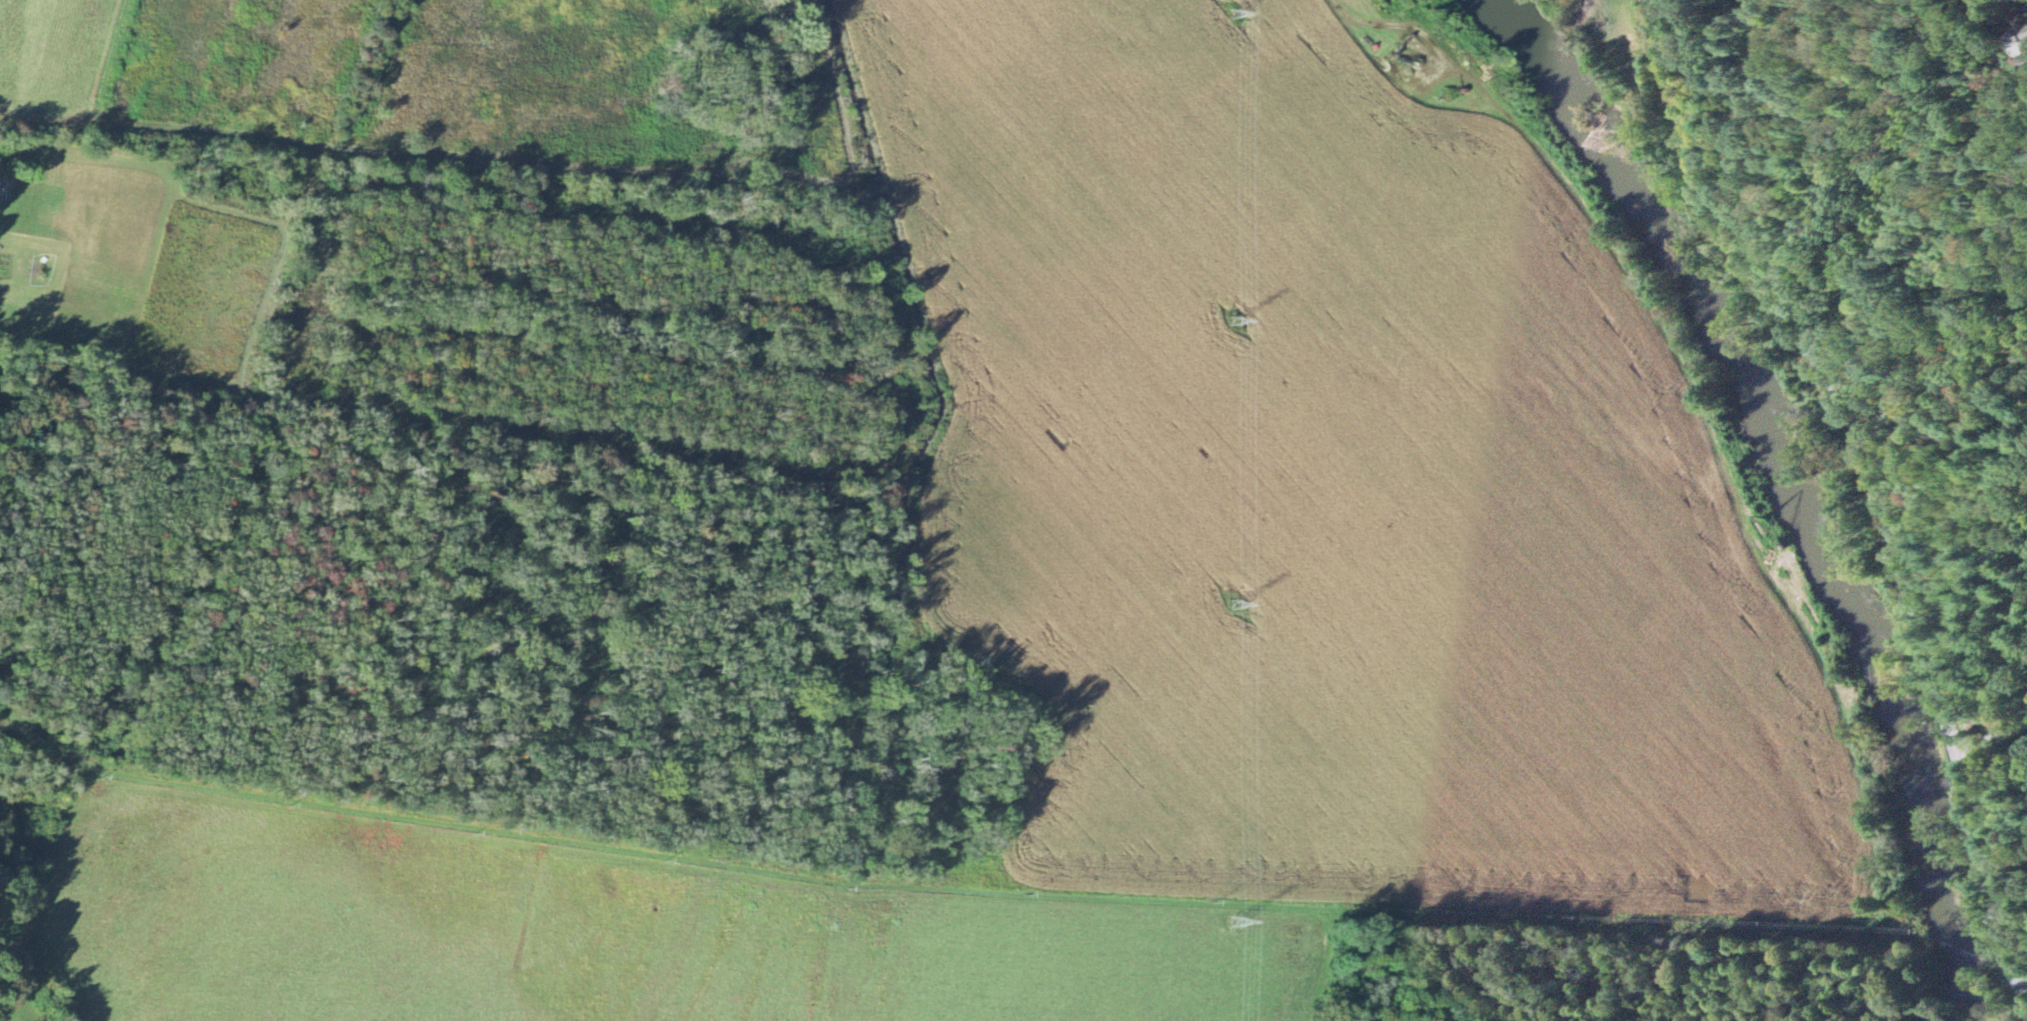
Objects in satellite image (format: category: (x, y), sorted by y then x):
power tower: (1230, 14)
road: (1425, 33)
road: (146, 194)
power tower: (1228, 320)
road: (55, 338)
road: (506, 427)
river: (1799, 475)
road: (1870, 477)
road: (1970, 590)
power tower: (1230, 604)
road: (1991, 736)
power tower: (1233, 919)

